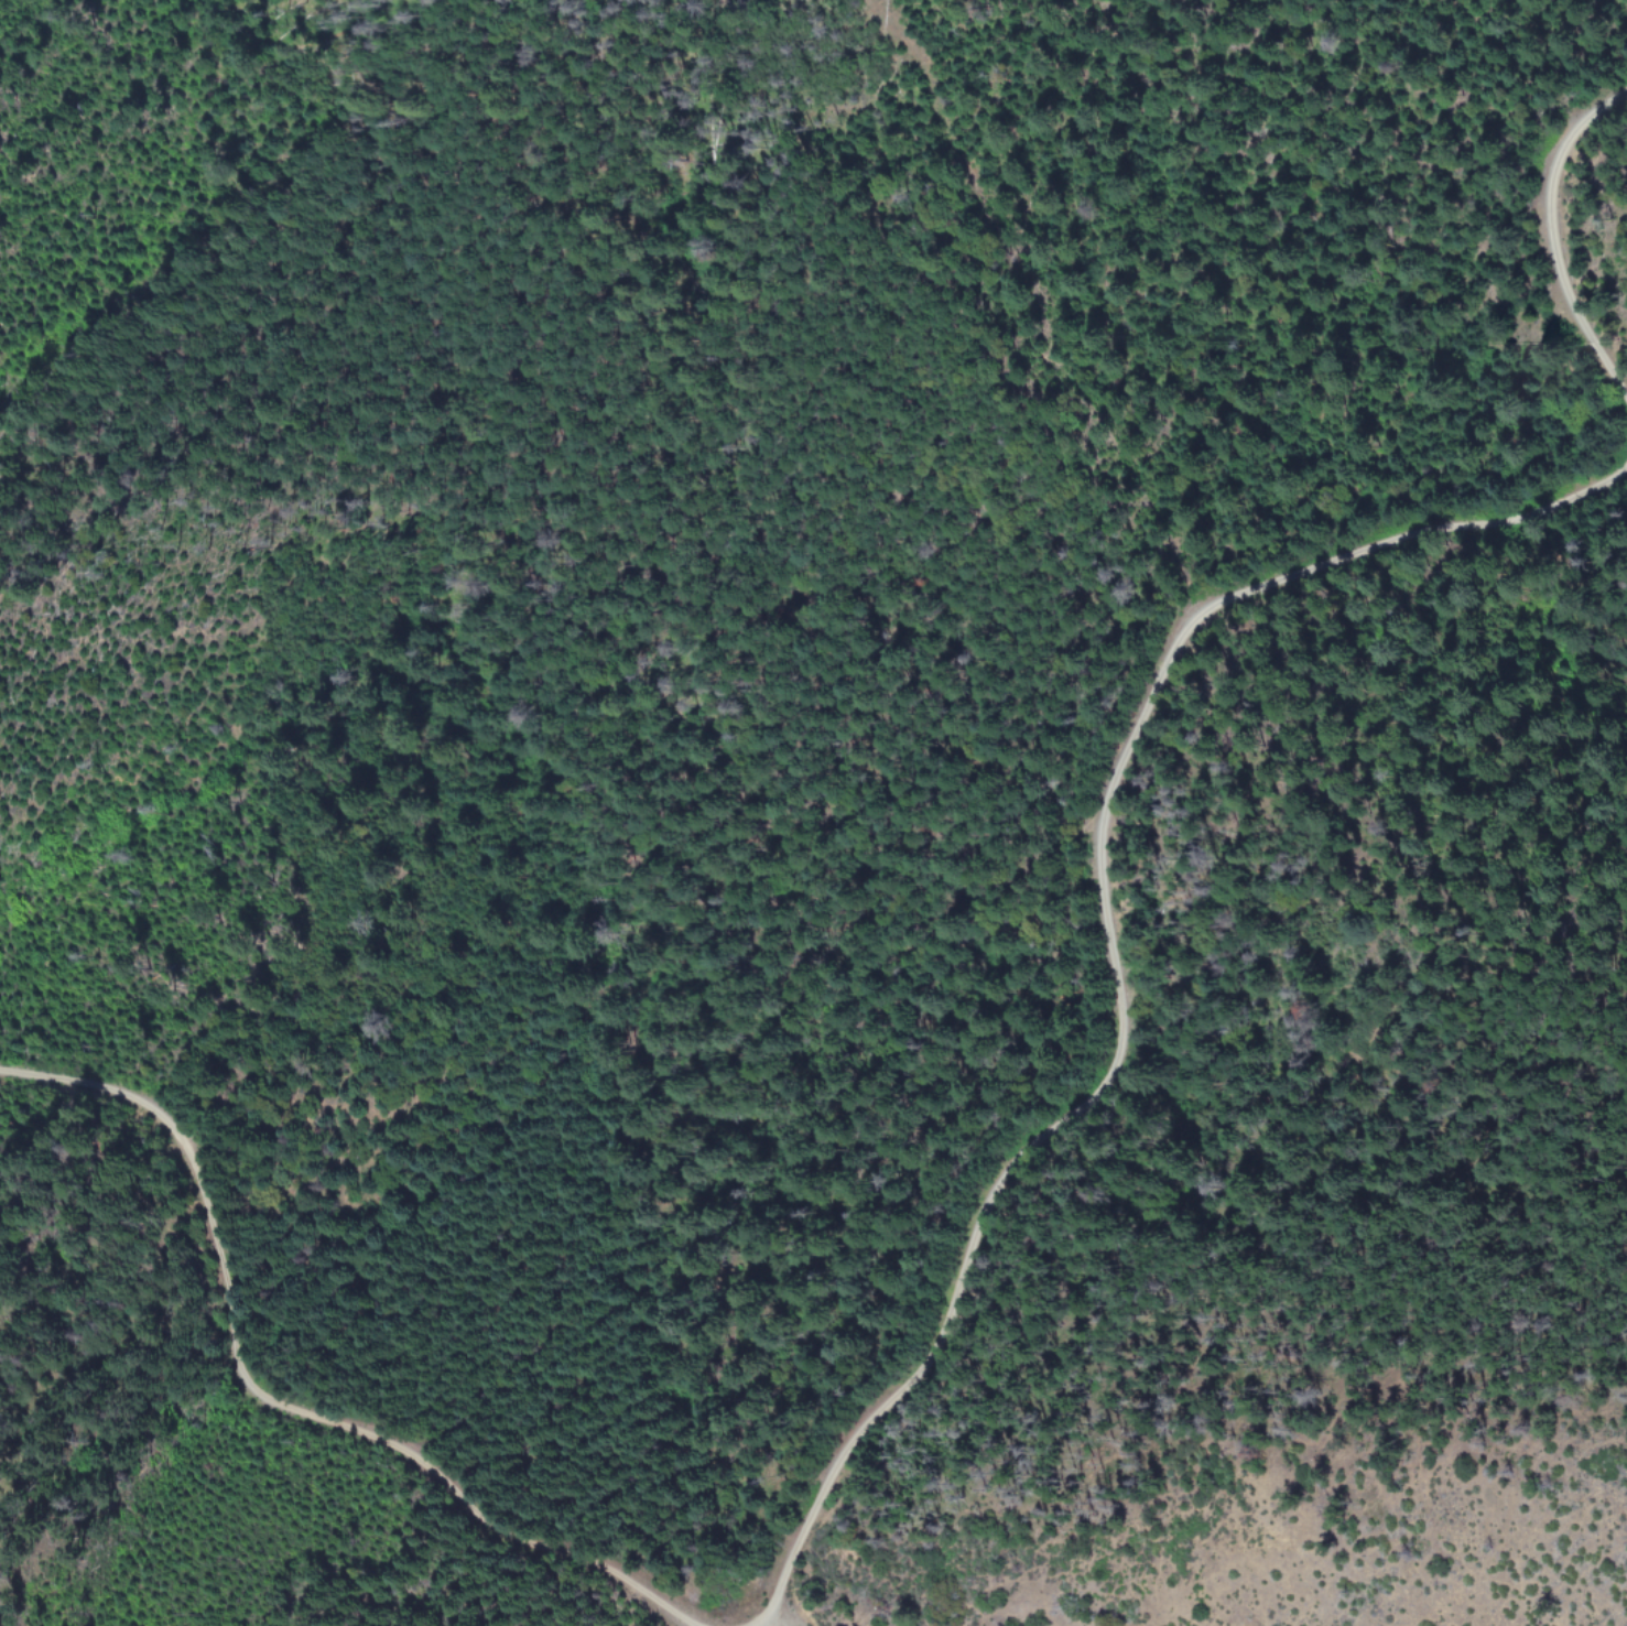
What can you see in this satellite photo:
road: (970, 1125)

